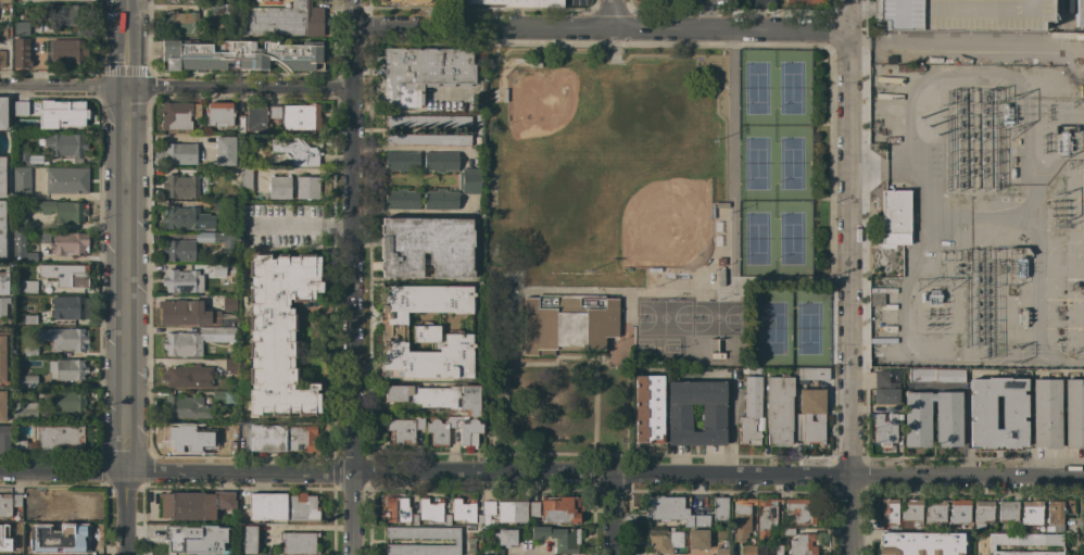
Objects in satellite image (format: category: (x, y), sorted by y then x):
building: (64, 0)
building: (272, 0)
building: (672, 0)
parking lot: (707, 1)
building: (802, 1)
building: (404, 2)
building: (521, 2)
parking lot: (752, 2)
building: (5, 5)
road: (861, 7)
building: (222, 9)
building: (70, 13)
road: (613, 14)
road: (707, 14)
road: (753, 14)
building: (962, 14)
parking garage: (962, 14)
building: (1079, 15)
building: (285, 16)
building: (180, 17)
road: (1062, 24)
road: (598, 27)
building: (181, 28)
building: (21, 29)
building: (283, 29)
building: (2, 31)
road: (966, 46)
building: (67, 50)
road: (495, 52)
building: (21, 53)
building: (240, 54)
road: (613, 55)
building: (2, 59)
road: (492, 62)
building: (421, 74)
road: (174, 86)
park: (793, 87)
park: (758, 88)
building: (22, 108)
building: (197, 110)
building: (275, 111)
building: (3, 112)
building: (63, 114)
building: (219, 114)
building: (175, 115)
building: (301, 117)
building: (256, 118)
building: (426, 121)
building: (241, 124)
building: (16, 125)
park: (565, 126)
building: (428, 139)
building: (65, 144)
building: (224, 151)
building: (295, 151)
building: (180, 153)
building: (23, 156)
building: (401, 161)
building: (440, 161)
park: (759, 164)
park: (794, 164)
building: (2, 176)
building: (244, 179)
building: (66, 180)
building: (469, 180)
building: (21, 181)
building: (180, 186)
building: (278, 187)
building: (306, 187)
building: (401, 199)
building: (440, 199)
park: (651, 209)
building: (62, 211)
power substation: (974, 217)
building: (180, 218)
building: (894, 218)
building: (20, 222)
road: (300, 225)
building: (2, 230)
park: (650, 230)
building: (42, 237)
building: (224, 238)
park: (759, 239)
park: (794, 239)
building: (68, 243)
building: (21, 247)
building: (426, 247)
building: (178, 250)
building: (217, 269)
building: (65, 274)
road: (124, 277)
road: (352, 277)
building: (720, 277)
road: (848, 277)
building: (181, 281)
building: (3, 282)
road: (793, 282)
building: (25, 286)
road: (678, 294)
building: (877, 299)
building: (229, 304)
building: (3, 306)
building: (68, 307)
building: (186, 313)
park: (717, 317)
building: (227, 318)
building: (29, 319)
building: (567, 323)
park: (776, 328)
park: (811, 328)
building: (425, 331)
building: (278, 332)
building: (68, 339)
building: (194, 340)
park: (660, 345)
building: (30, 351)
building: (3, 360)
road: (593, 361)
road: (558, 363)
building: (229, 366)
building: (66, 369)
building: (754, 370)
building: (814, 374)
building: (188, 376)
building: (921, 376)
building: (949, 376)
building: (27, 380)
building: (886, 386)
building: (225, 396)
building: (437, 396)
building: (67, 402)
building: (2, 406)
building: (981, 406)
building: (186, 407)
building: (648, 409)
building: (778, 409)
building: (749, 411)
building: (1046, 413)
building: (1073, 413)
building: (806, 417)
building: (713, 418)
building: (21, 421)
building: (947, 424)
building: (404, 429)
building: (440, 430)
building: (467, 430)
building: (884, 430)
building: (63, 436)
building: (180, 436)
building: (3, 439)
building: (210, 439)
building: (282, 439)
road: (593, 474)
road: (542, 475)
building: (16, 500)
parking lot: (697, 502)
building: (5, 505)
building: (64, 505)
building: (196, 505)
building: (282, 507)
building: (533, 508)
building: (562, 508)
building: (719, 508)
building: (398, 509)
building: (430, 510)
building: (463, 510)
building: (673, 510)
building: (802, 510)
building: (888, 510)
building: (959, 510)
building: (1008, 510)
building: (512, 512)
building: (935, 512)
building: (911, 513)
building: (983, 513)
building: (1031, 513)
building: (28, 514)
building: (487, 515)
road: (614, 515)
building: (1055, 516)
building: (741, 518)
building: (766, 518)
building: (414, 519)
building: (446, 519)
building: (789, 532)
building: (62, 534)
building: (505, 537)
building: (248, 539)
building: (559, 539)
building: (193, 540)
building: (697, 540)
building: (456, 541)
building: (663, 541)
building: (1023, 542)
building: (299, 543)
building: (921, 543)
building: (803, 544)
building: (29, 545)
building: (748, 550)
building: (768, 550)
building: (11, 551)
building: (492, 552)
building: (721, 552)
road: (533, 554)

